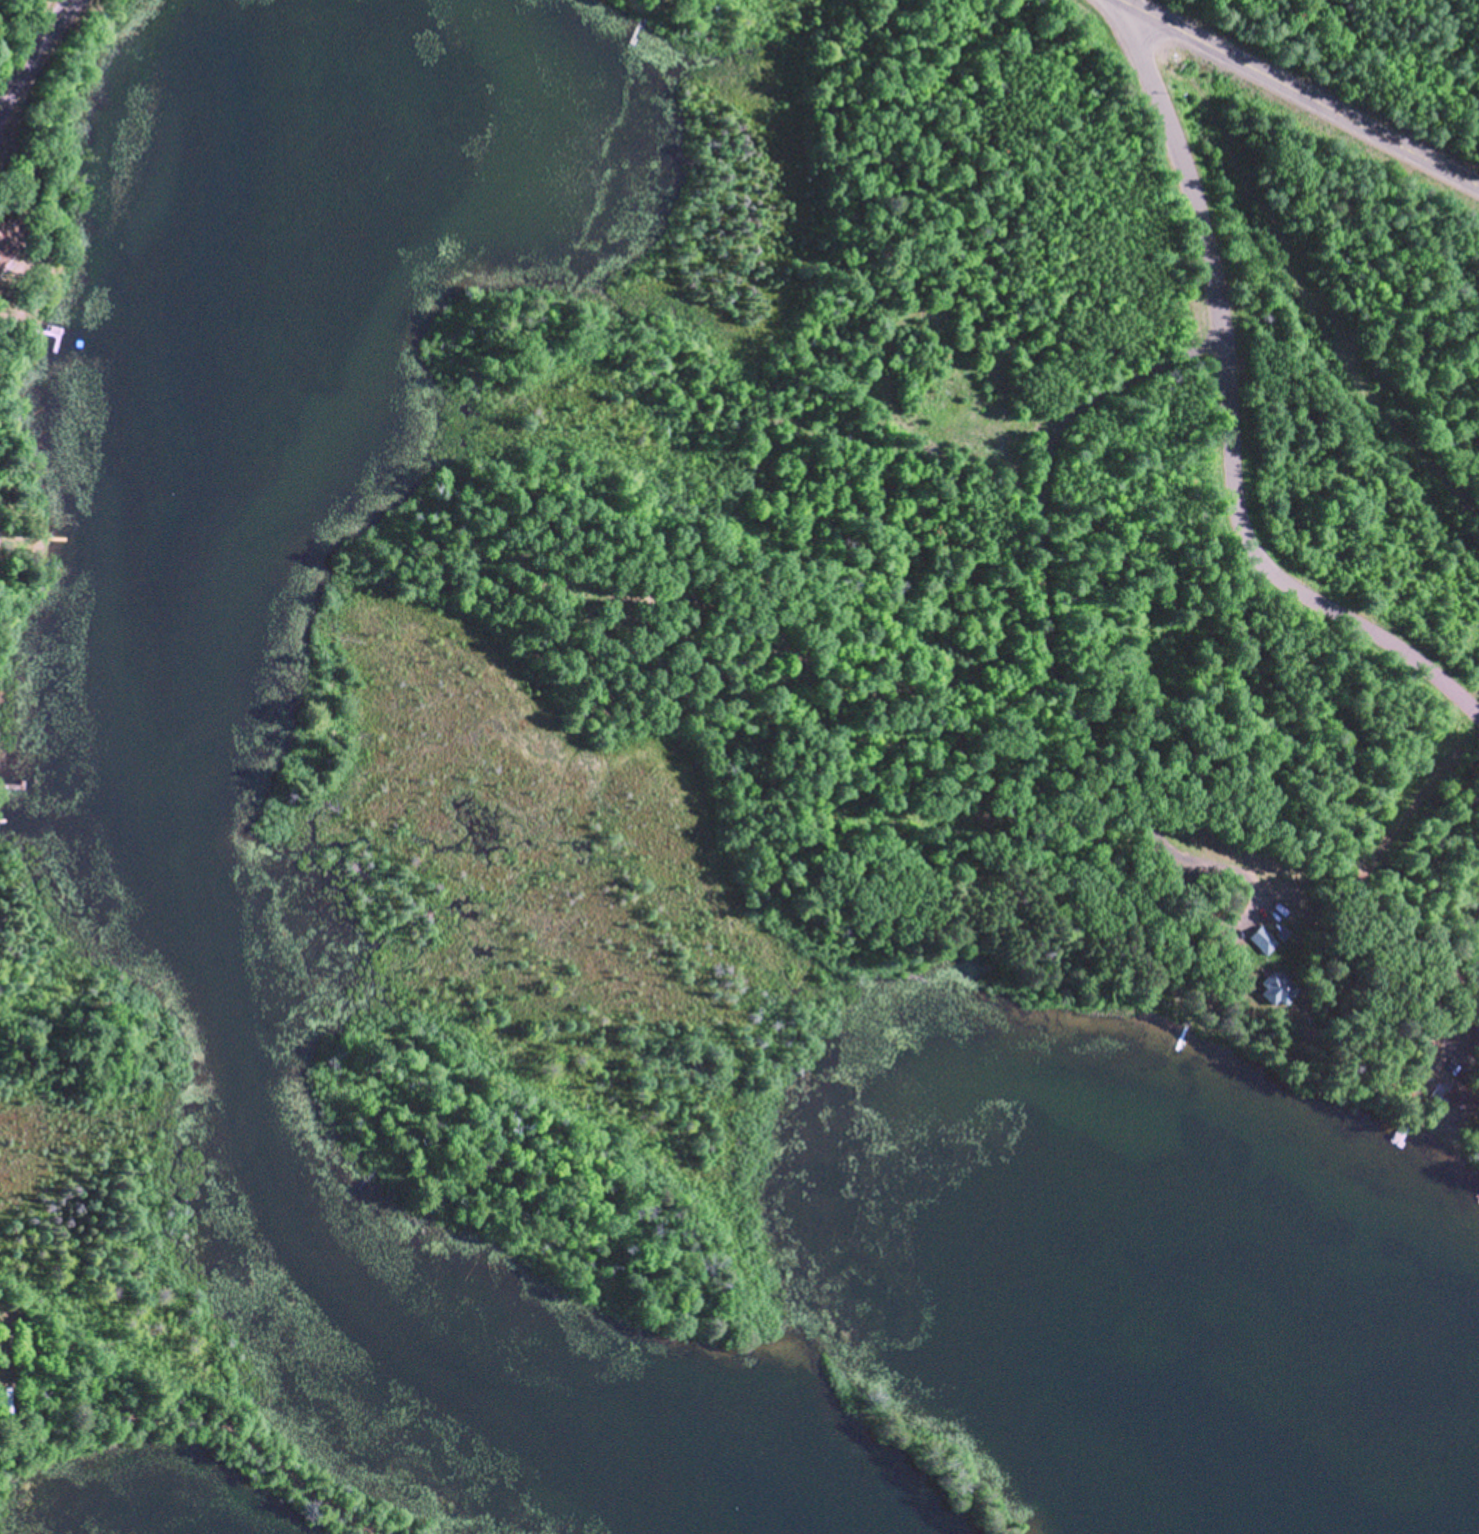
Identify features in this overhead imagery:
road: (33, 50)
road: (1300, 92)
building: (9, 234)
road: (1228, 412)
road: (1398, 831)
building: (1316, 862)
building: (1262, 937)
building: (1276, 985)
building: (1457, 1093)
road: (218, 1422)

